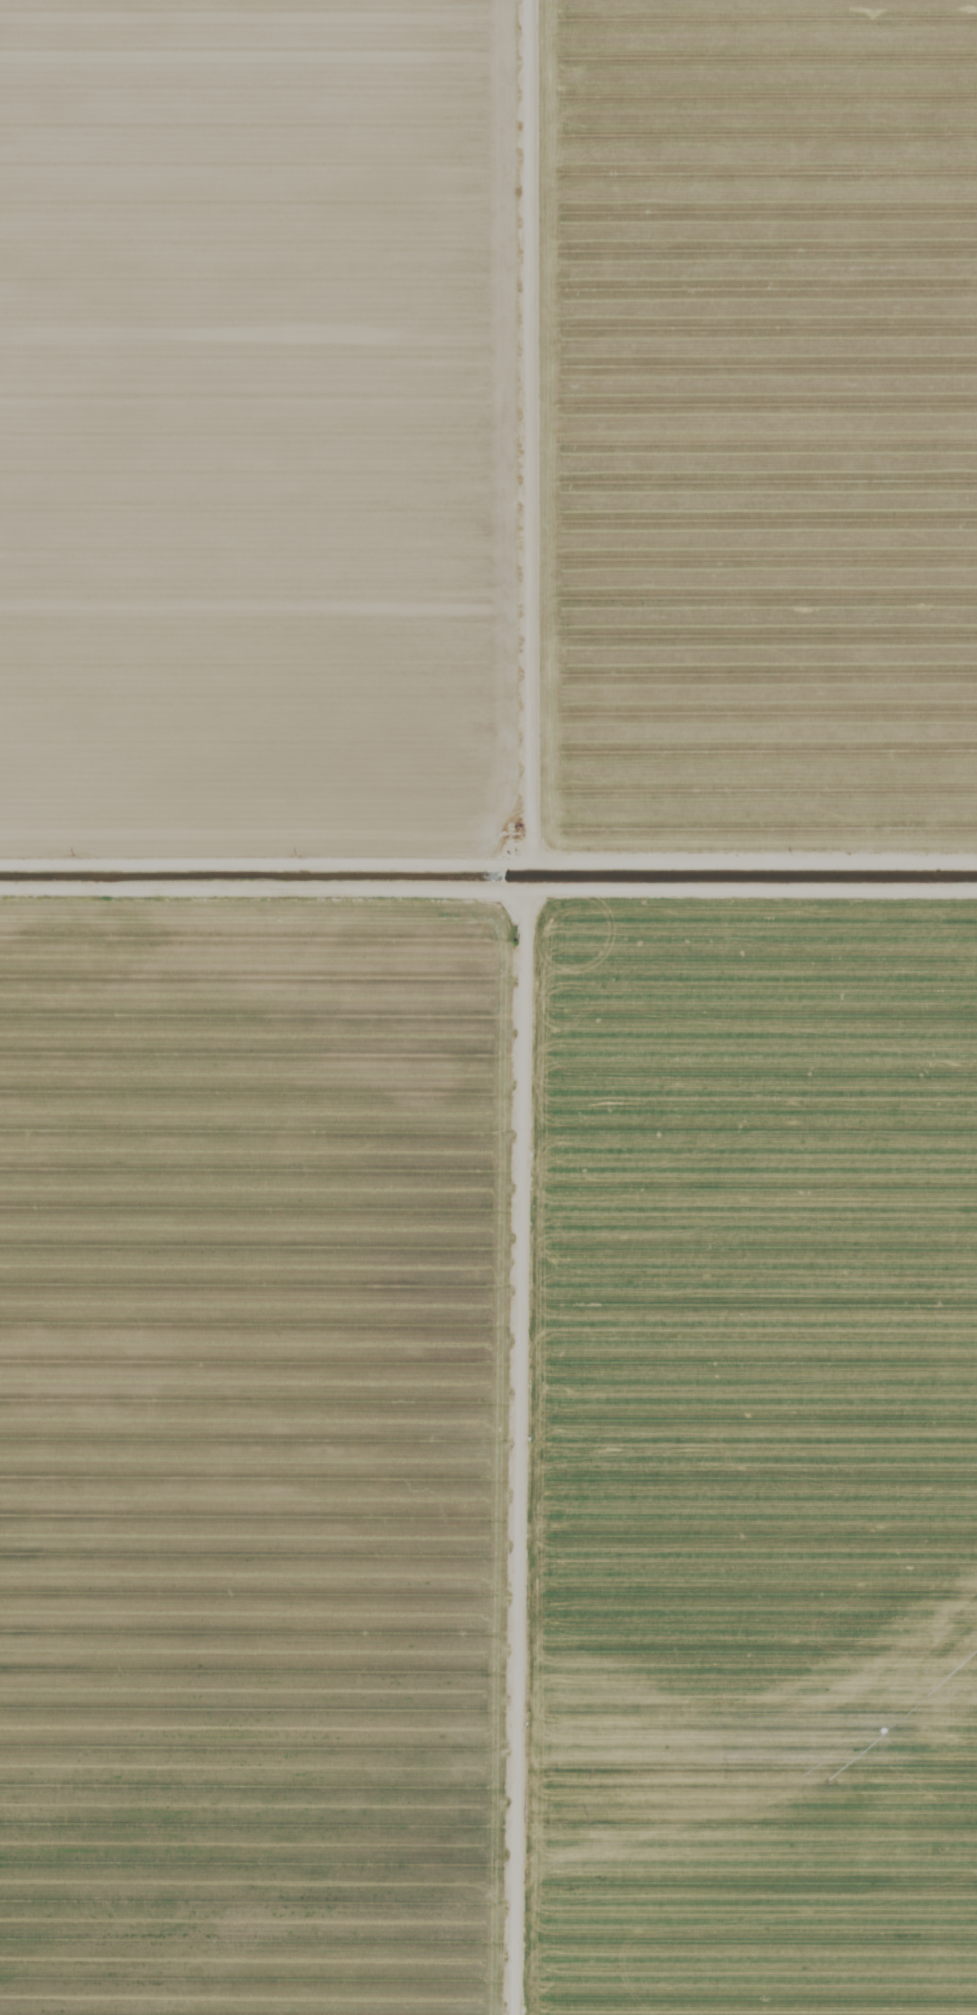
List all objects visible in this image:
road: (488, 899)

